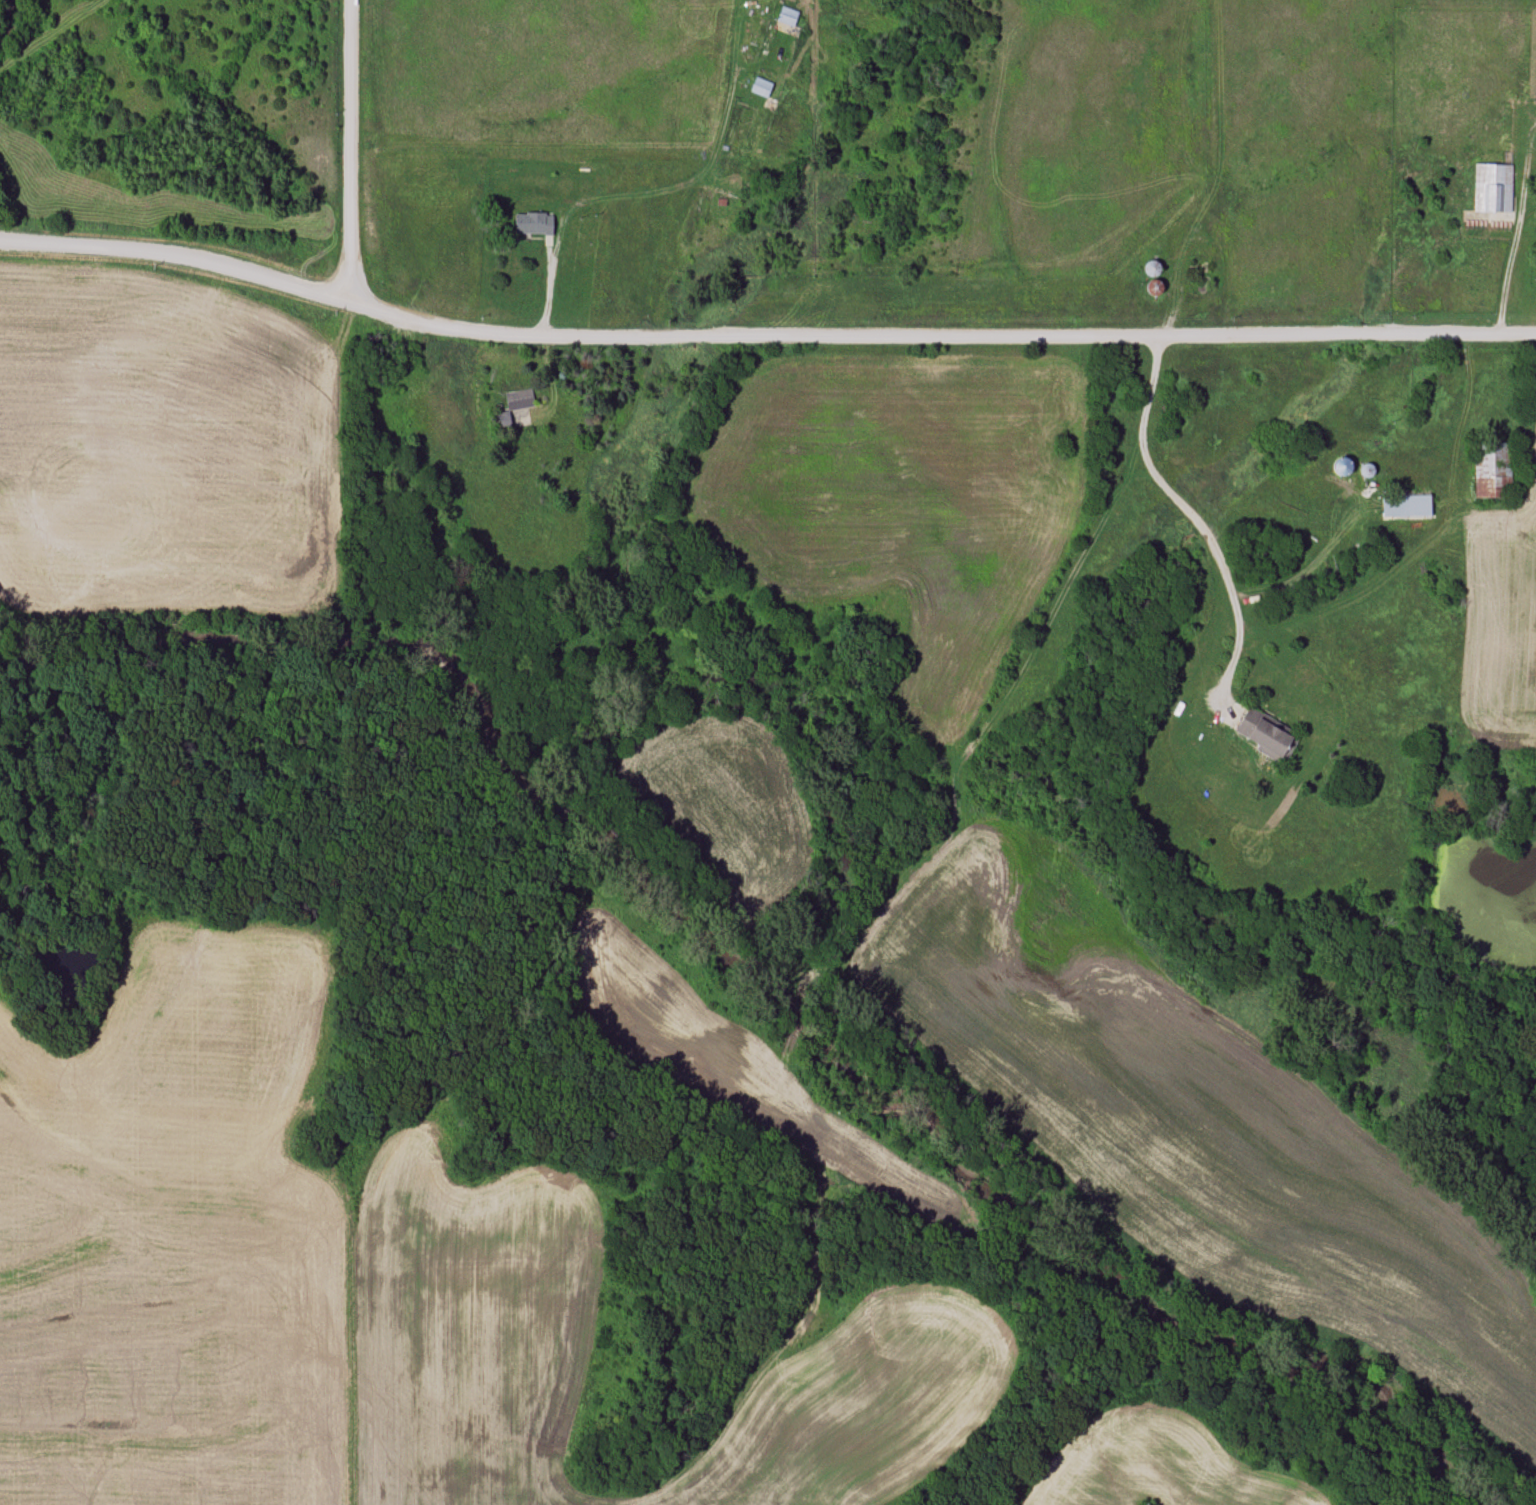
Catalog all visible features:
building: (788, 16)
building: (761, 86)
road: (350, 150)
building: (1491, 187)
building: (534, 223)
road: (177, 255)
road: (1509, 265)
building: (1155, 277)
road: (940, 336)
road: (1469, 401)
building: (518, 405)
building: (1368, 471)
building: (1492, 471)
building: (1409, 505)
road: (1199, 529)
building: (1269, 735)
river: (775, 987)

